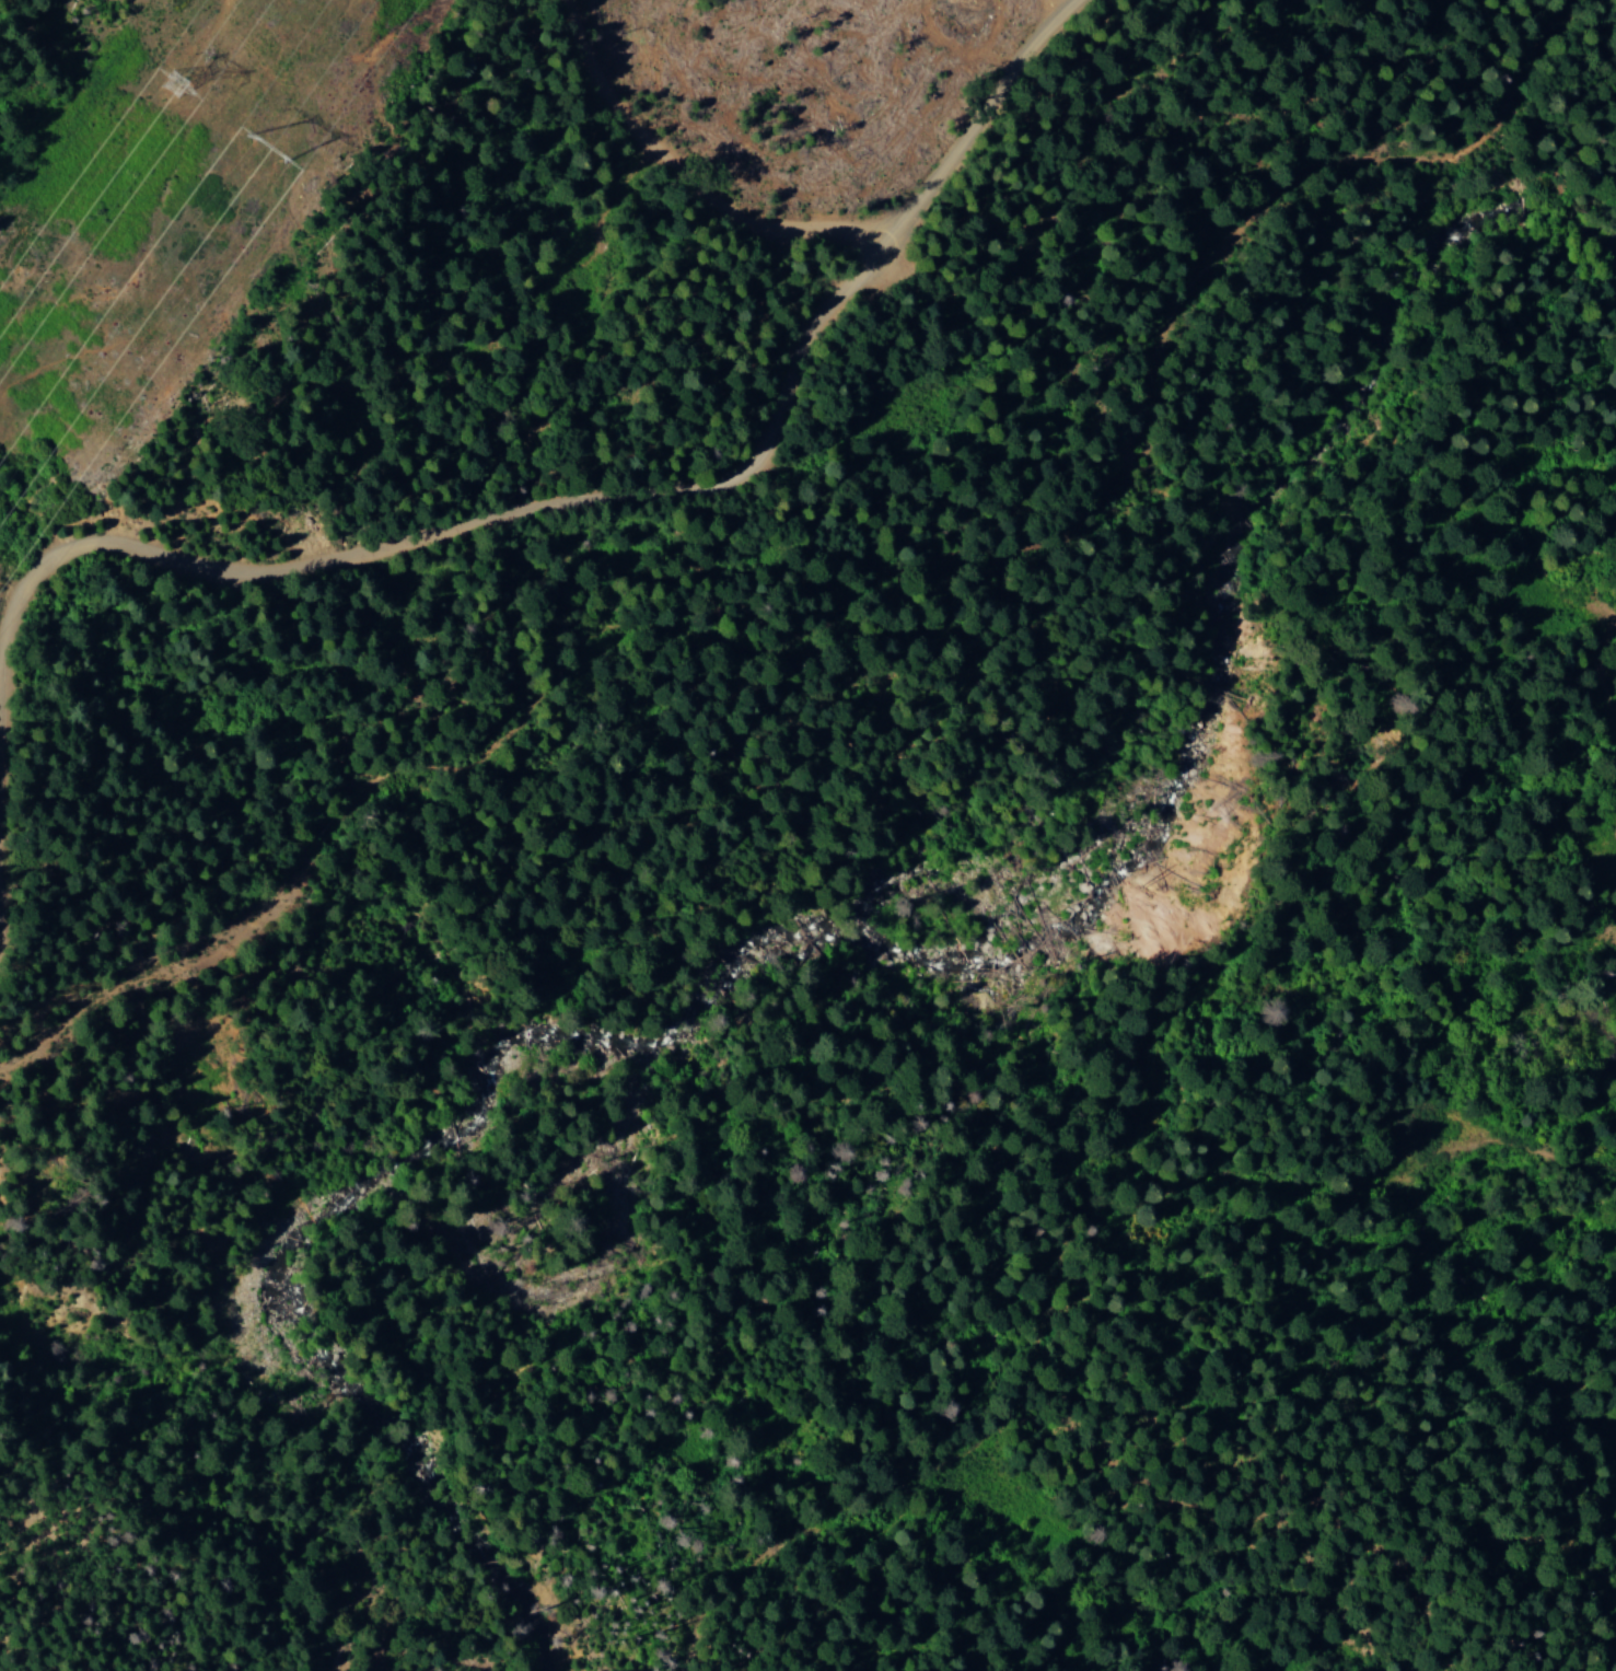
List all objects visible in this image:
power tower: (173, 80)
road: (985, 127)
power tower: (251, 131)
road: (659, 190)
road: (491, 536)

